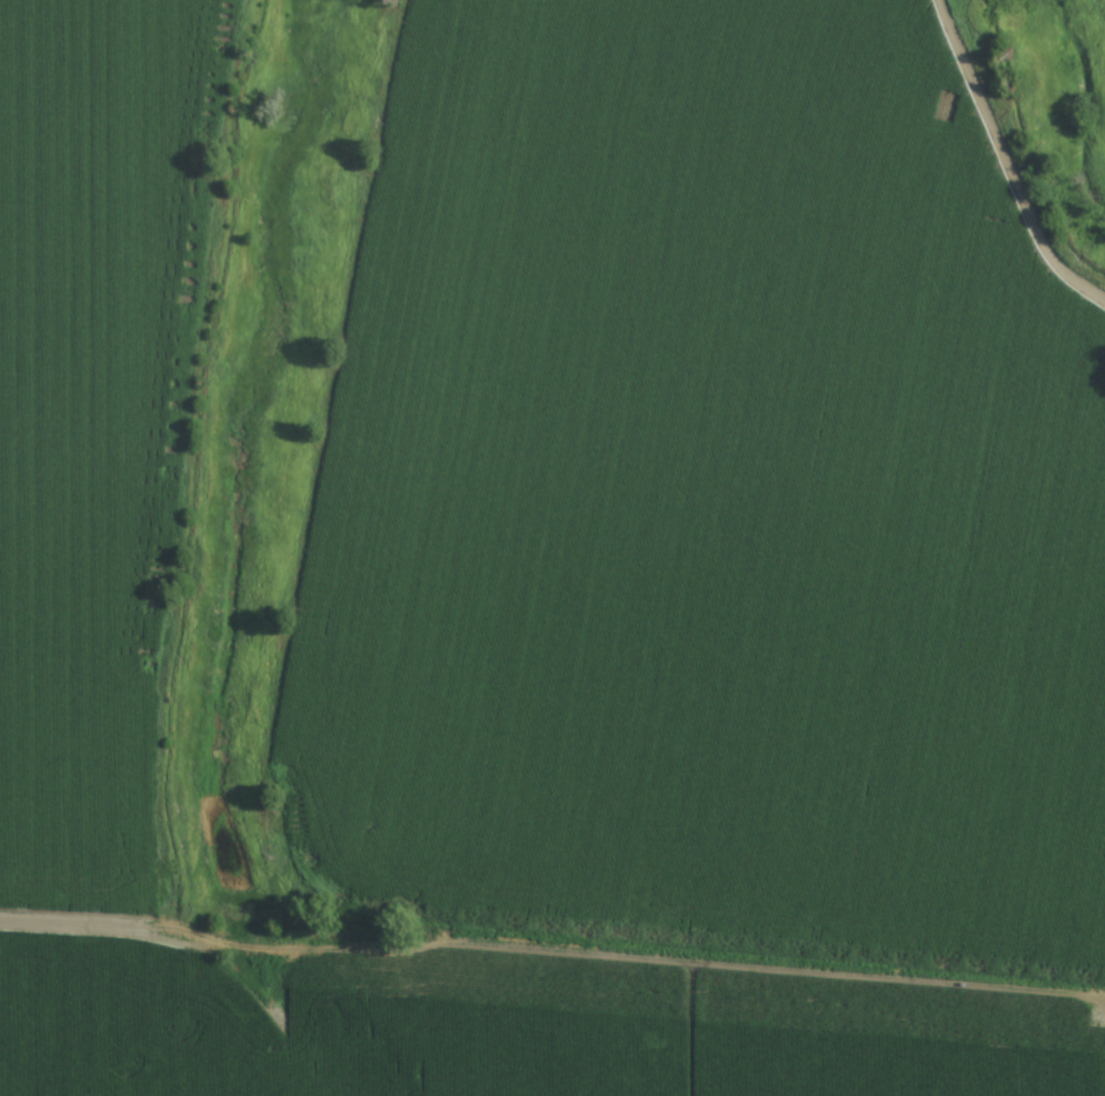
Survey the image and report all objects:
crop: (577, 569)

